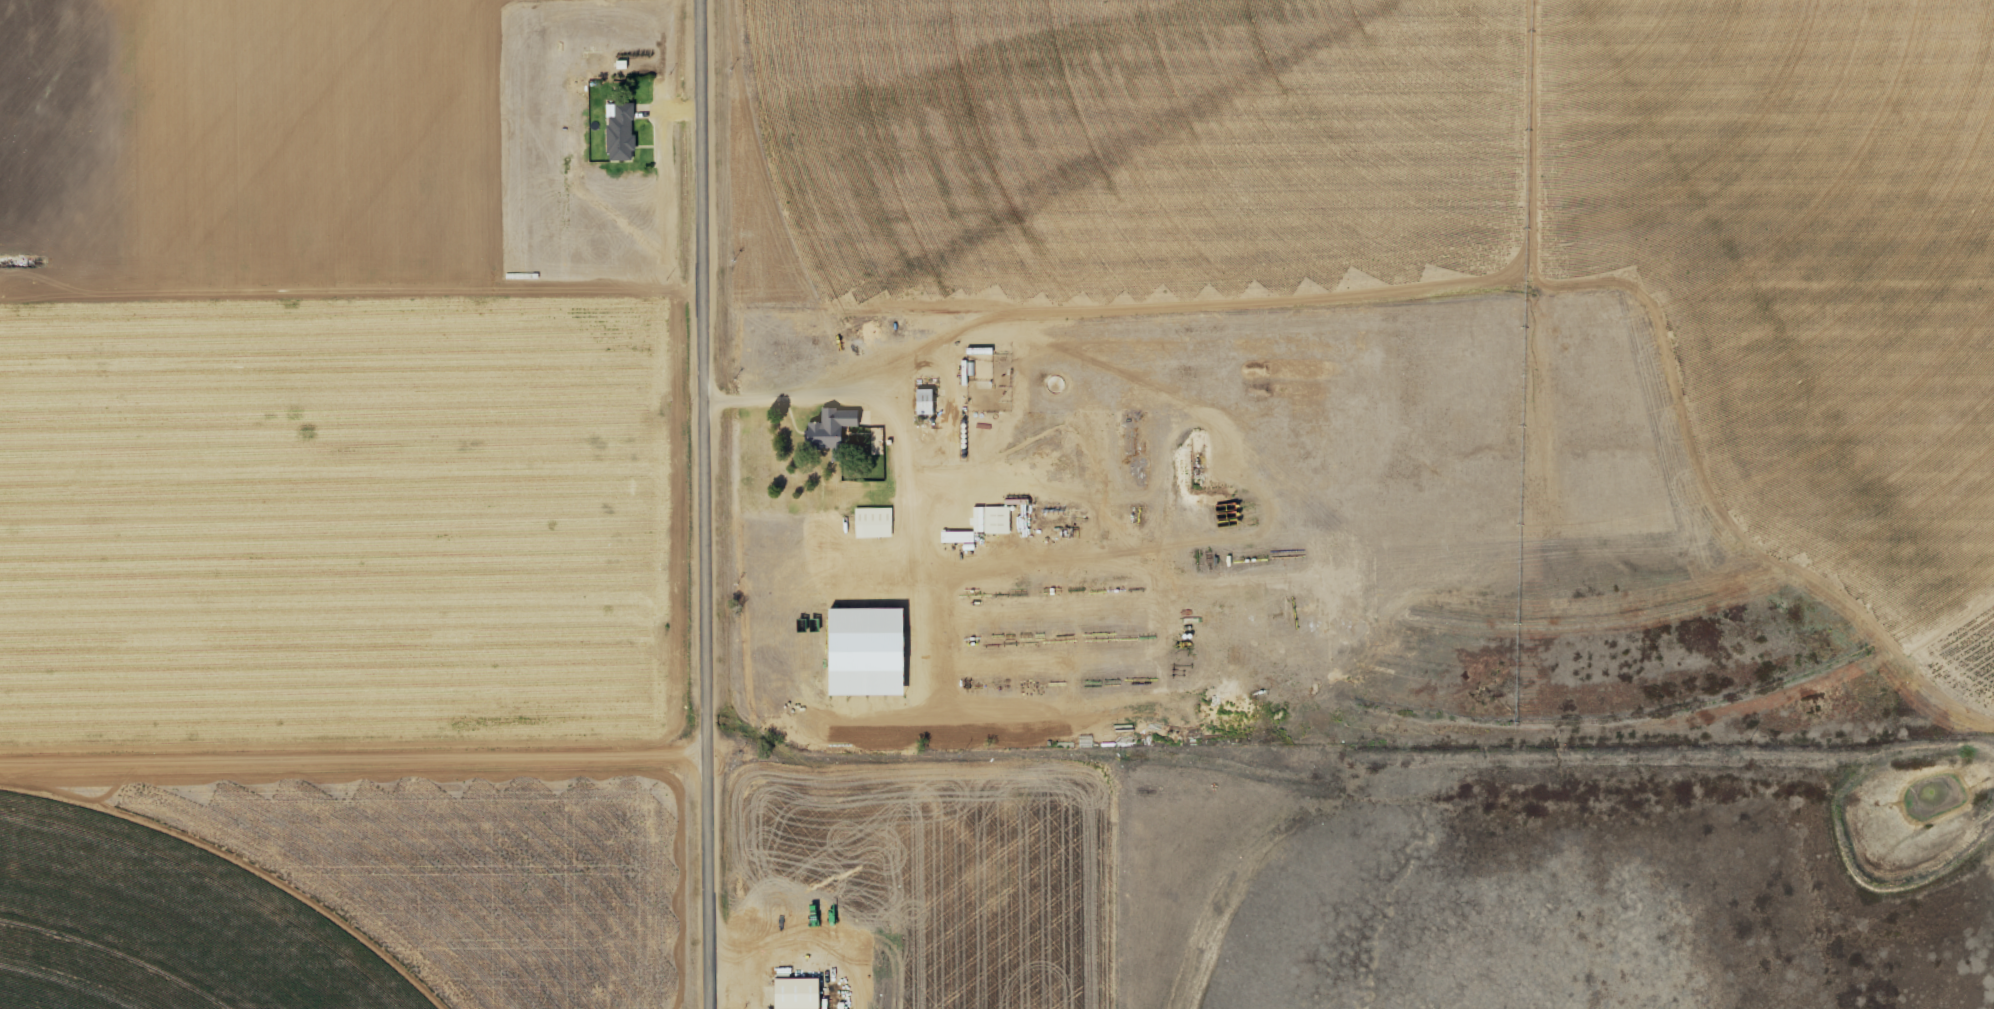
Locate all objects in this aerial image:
building: (615, 134)
building: (985, 361)
road: (877, 399)
building: (920, 402)
building: (826, 429)
road: (705, 504)
building: (994, 520)
building: (869, 523)
building: (1115, 718)
road: (353, 758)
building: (791, 993)

